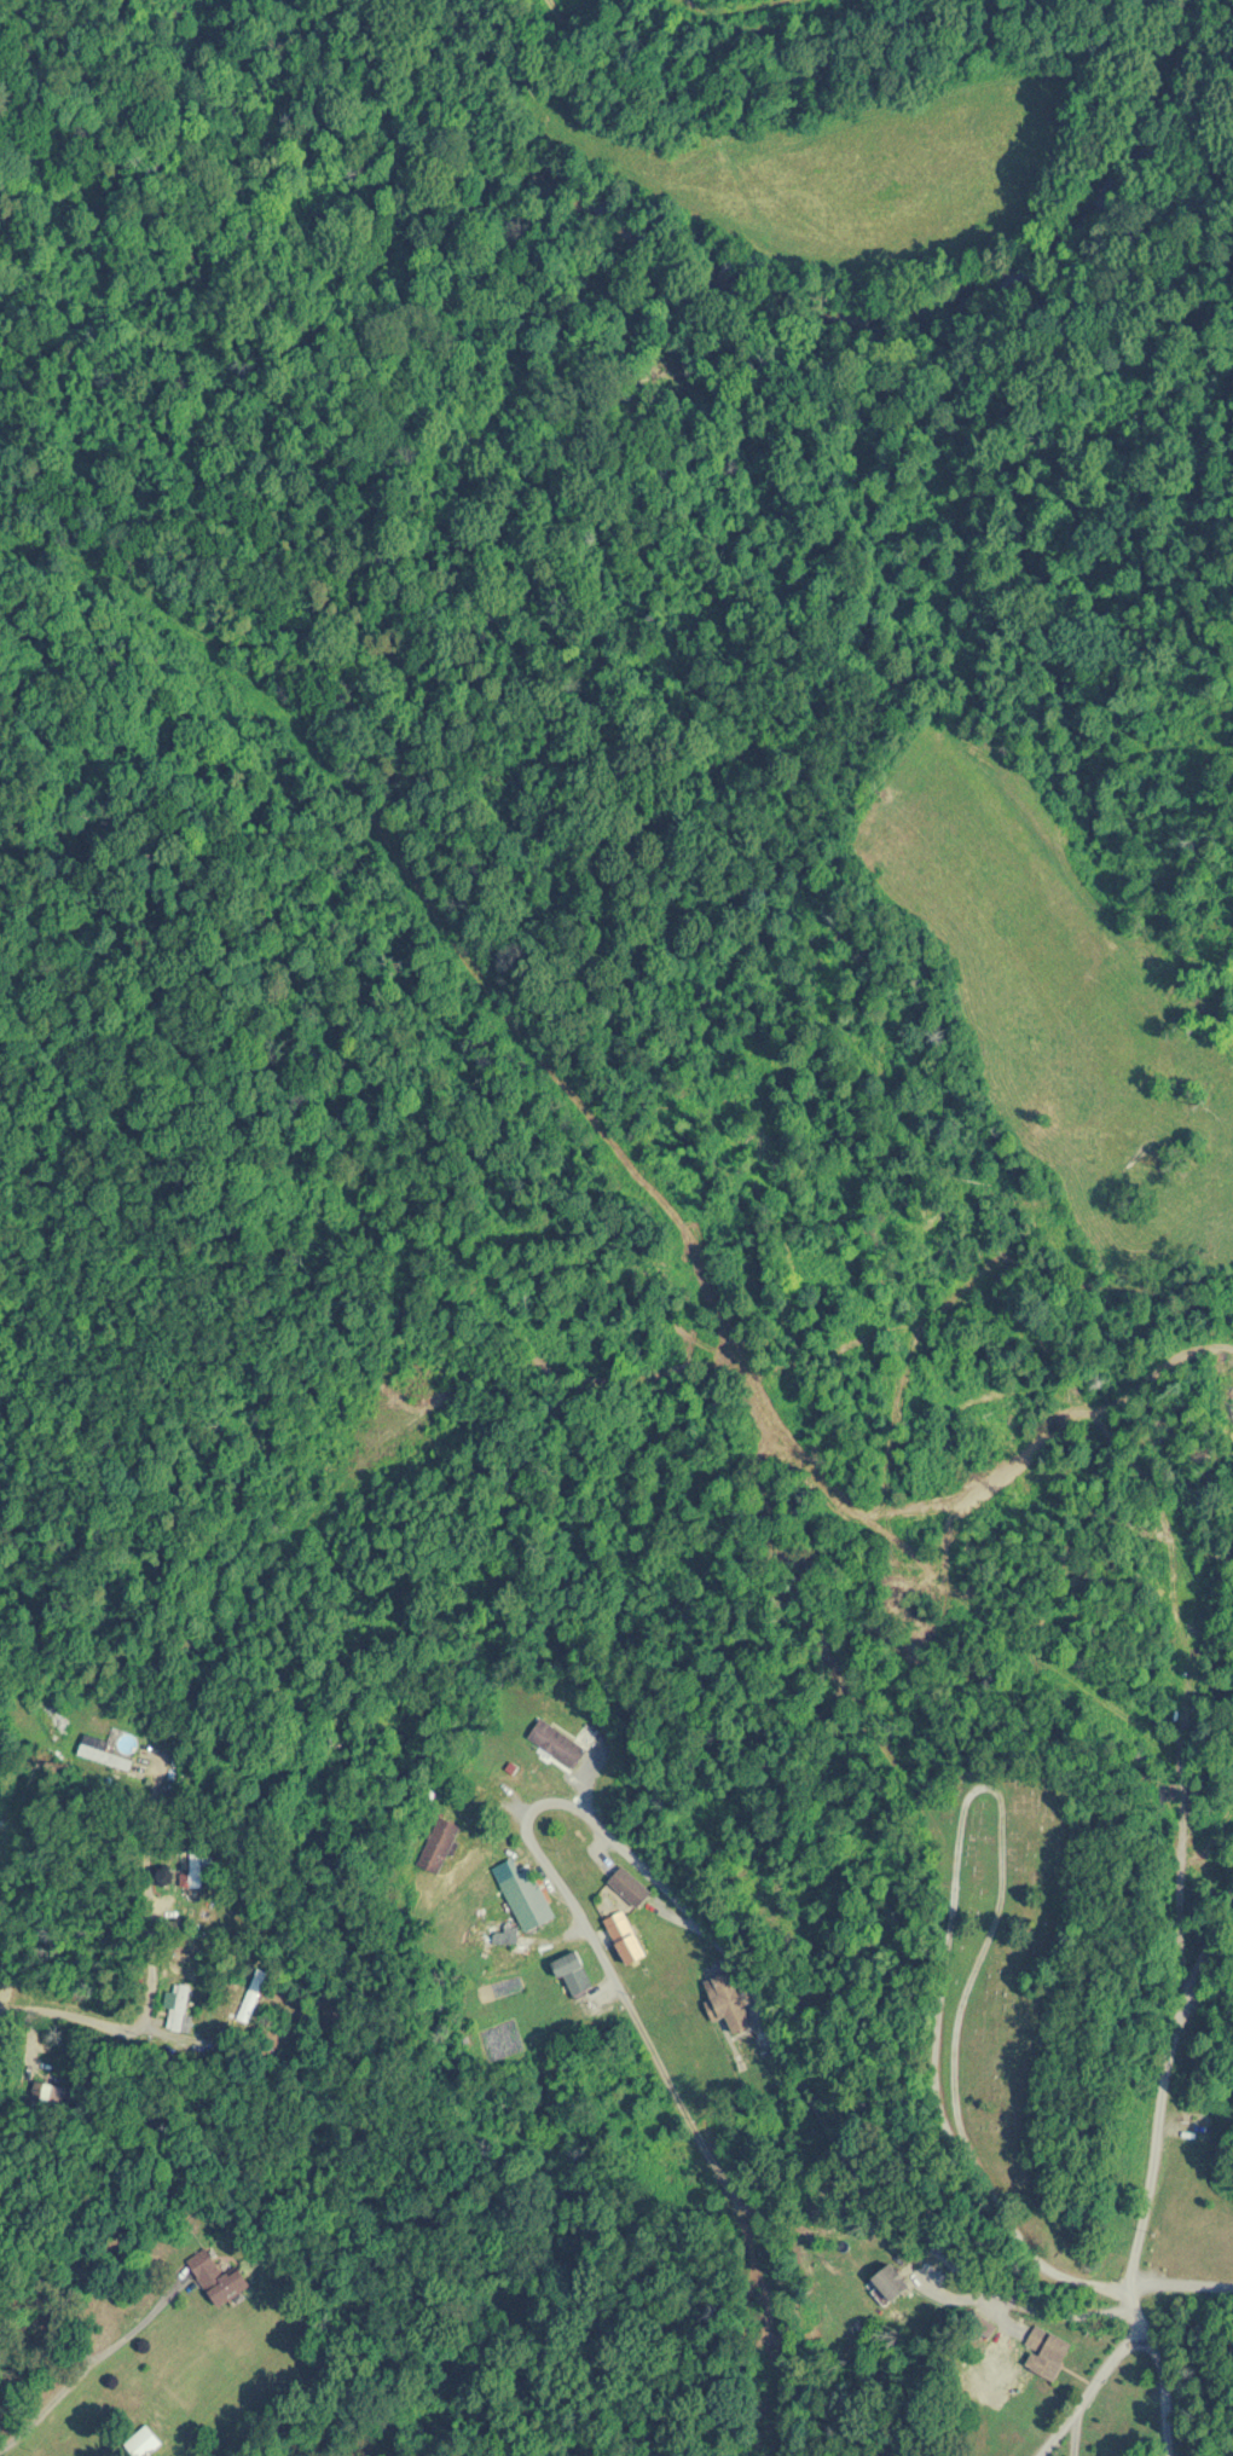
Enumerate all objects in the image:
building: (557, 1742)
building: (108, 1749)
building: (439, 1843)
building: (195, 1866)
building: (630, 1886)
building: (533, 1899)
road: (689, 1912)
building: (505, 1933)
building: (625, 1936)
building: (573, 1973)
building: (251, 1994)
building: (728, 2002)
building: (178, 2008)
road: (1160, 2105)
road: (29, 2242)
building: (218, 2278)
building: (892, 2281)
building: (1046, 2352)
road: (1090, 2391)
road: (1174, 2396)
building: (143, 2441)

